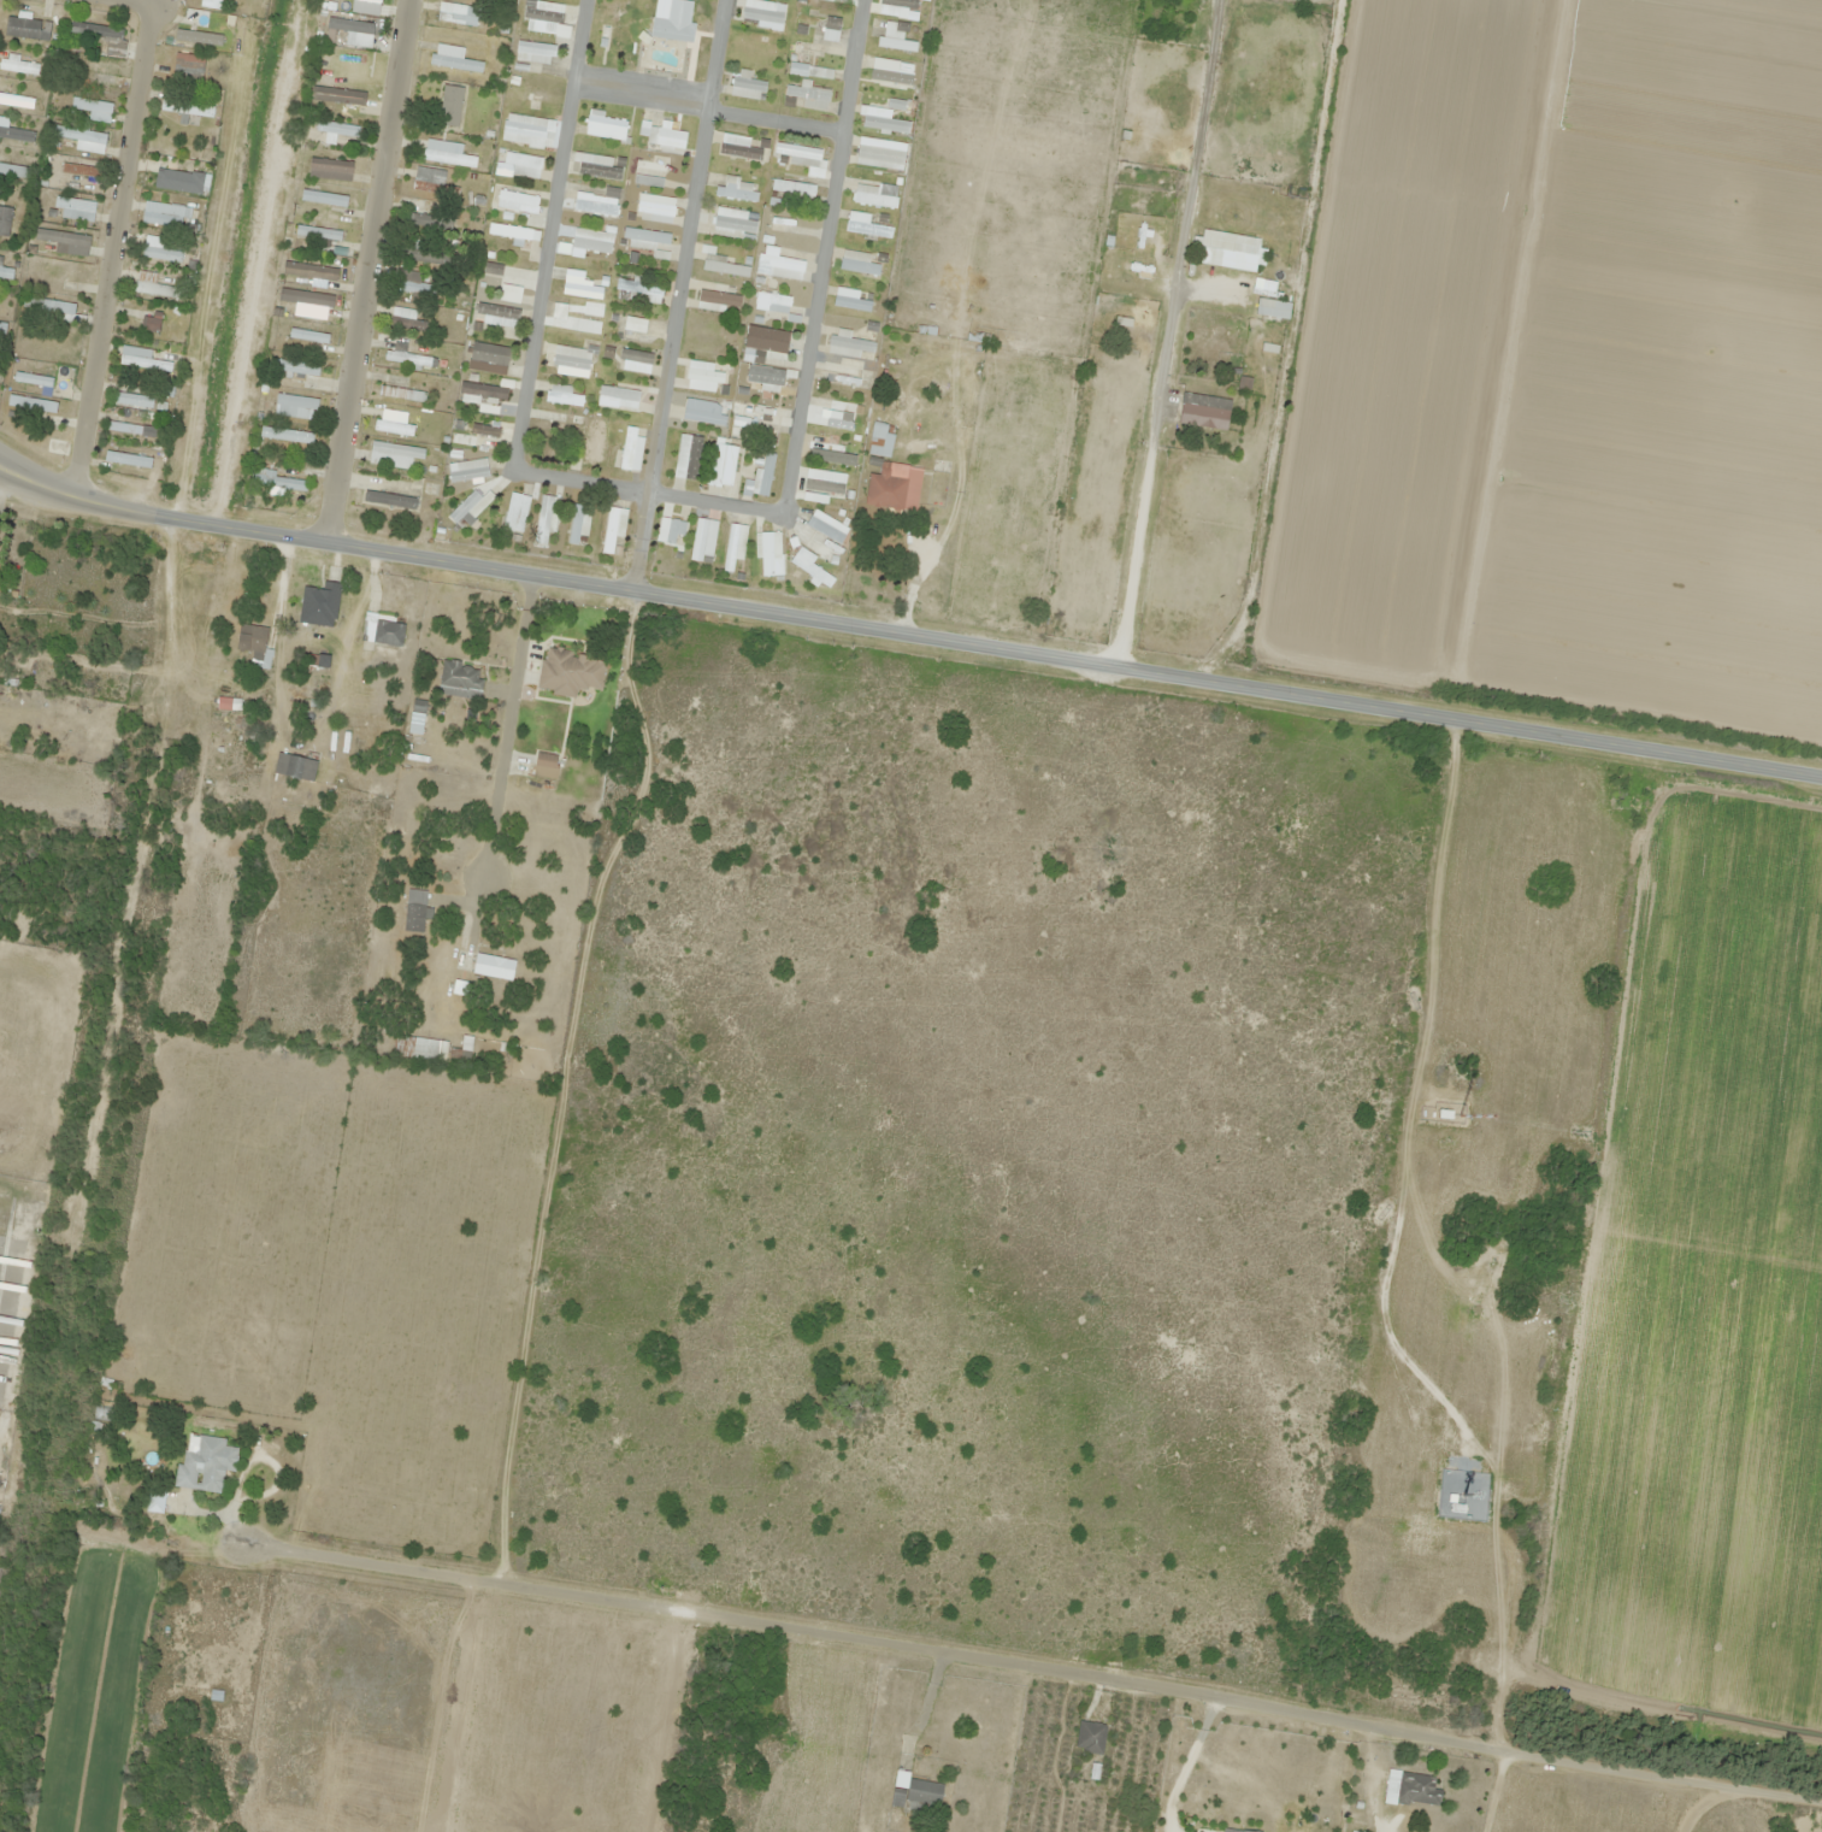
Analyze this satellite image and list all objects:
building: (902, 2)
road: (135, 4)
building: (214, 4)
building: (543, 11)
building: (459, 13)
building: (762, 13)
building: (672, 30)
building: (830, 30)
building: (102, 36)
building: (895, 40)
building: (535, 52)
building: (187, 63)
building: (18, 65)
building: (95, 70)
building: (890, 72)
building: (747, 86)
building: (337, 95)
building: (809, 96)
building: (16, 100)
building: (450, 105)
building: (187, 107)
road: (707, 110)
building: (883, 120)
building: (607, 126)
building: (525, 130)
building: (16, 134)
building: (79, 134)
building: (662, 135)
building: (738, 147)
building: (880, 154)
building: (797, 155)
building: (449, 157)
building: (520, 165)
building: (597, 165)
building: (330, 169)
building: (14, 170)
building: (81, 170)
building: (649, 172)
building: (431, 181)
building: (792, 188)
building: (738, 190)
building: (875, 194)
building: (324, 198)
building: (517, 201)
building: (599, 201)
building: (655, 206)
building: (73, 207)
building: (164, 214)
building: (5, 219)
building: (735, 224)
building: (865, 225)
building: (513, 231)
building: (318, 232)
building: (64, 241)
building: (591, 241)
building: (648, 241)
building: (1228, 249)
building: (163, 253)
road: (119, 254)
road: (821, 255)
building: (426, 257)
building: (857, 263)
building: (723, 265)
building: (779, 265)
building: (1136, 266)
building: (493, 269)
road: (365, 270)
building: (6, 271)
building: (309, 271)
building: (413, 283)
building: (153, 285)
building: (582, 288)
building: (638, 290)
building: (509, 293)
road: (674, 294)
building: (306, 298)
building: (718, 301)
building: (771, 302)
road: (538, 306)
building: (47, 307)
building: (1273, 308)
building: (148, 323)
building: (574, 323)
building: (407, 324)
building: (2, 326)
building: (302, 334)
building: (767, 340)
building: (851, 346)
building: (609, 352)
building: (406, 355)
building: (491, 355)
building: (636, 355)
building: (142, 358)
building: (571, 360)
building: (845, 375)
building: (704, 376)
building: (765, 376)
building: (33, 378)
building: (483, 391)
building: (562, 395)
building: (618, 397)
building: (132, 399)
building: (295, 406)
building: (1204, 411)
building: (707, 418)
building: (393, 423)
building: (552, 426)
building: (126, 428)
building: (485, 430)
building: (287, 435)
building: (880, 438)
building: (594, 441)
building: (631, 450)
building: (827, 452)
building: (688, 456)
building: (128, 459)
building: (723, 465)
building: (468, 470)
building: (761, 476)
building: (279, 484)
building: (894, 485)
building: (389, 499)
road: (715, 503)
building: (474, 507)
building: (515, 512)
building: (548, 513)
building: (579, 524)
building: (613, 526)
building: (826, 526)
building: (674, 532)
building: (703, 540)
building: (735, 546)
building: (771, 553)
building: (810, 567)
building: (319, 605)
building: (382, 630)
road: (907, 635)
building: (254, 642)
building: (570, 672)
building: (460, 679)
building: (546, 760)
building: (294, 766)
building: (414, 911)
building: (493, 966)
building: (419, 1048)
building: (89, 1462)
building: (205, 1463)
building: (1090, 1736)
building: (1417, 1789)
building: (915, 1791)
building: (1234, 1830)

